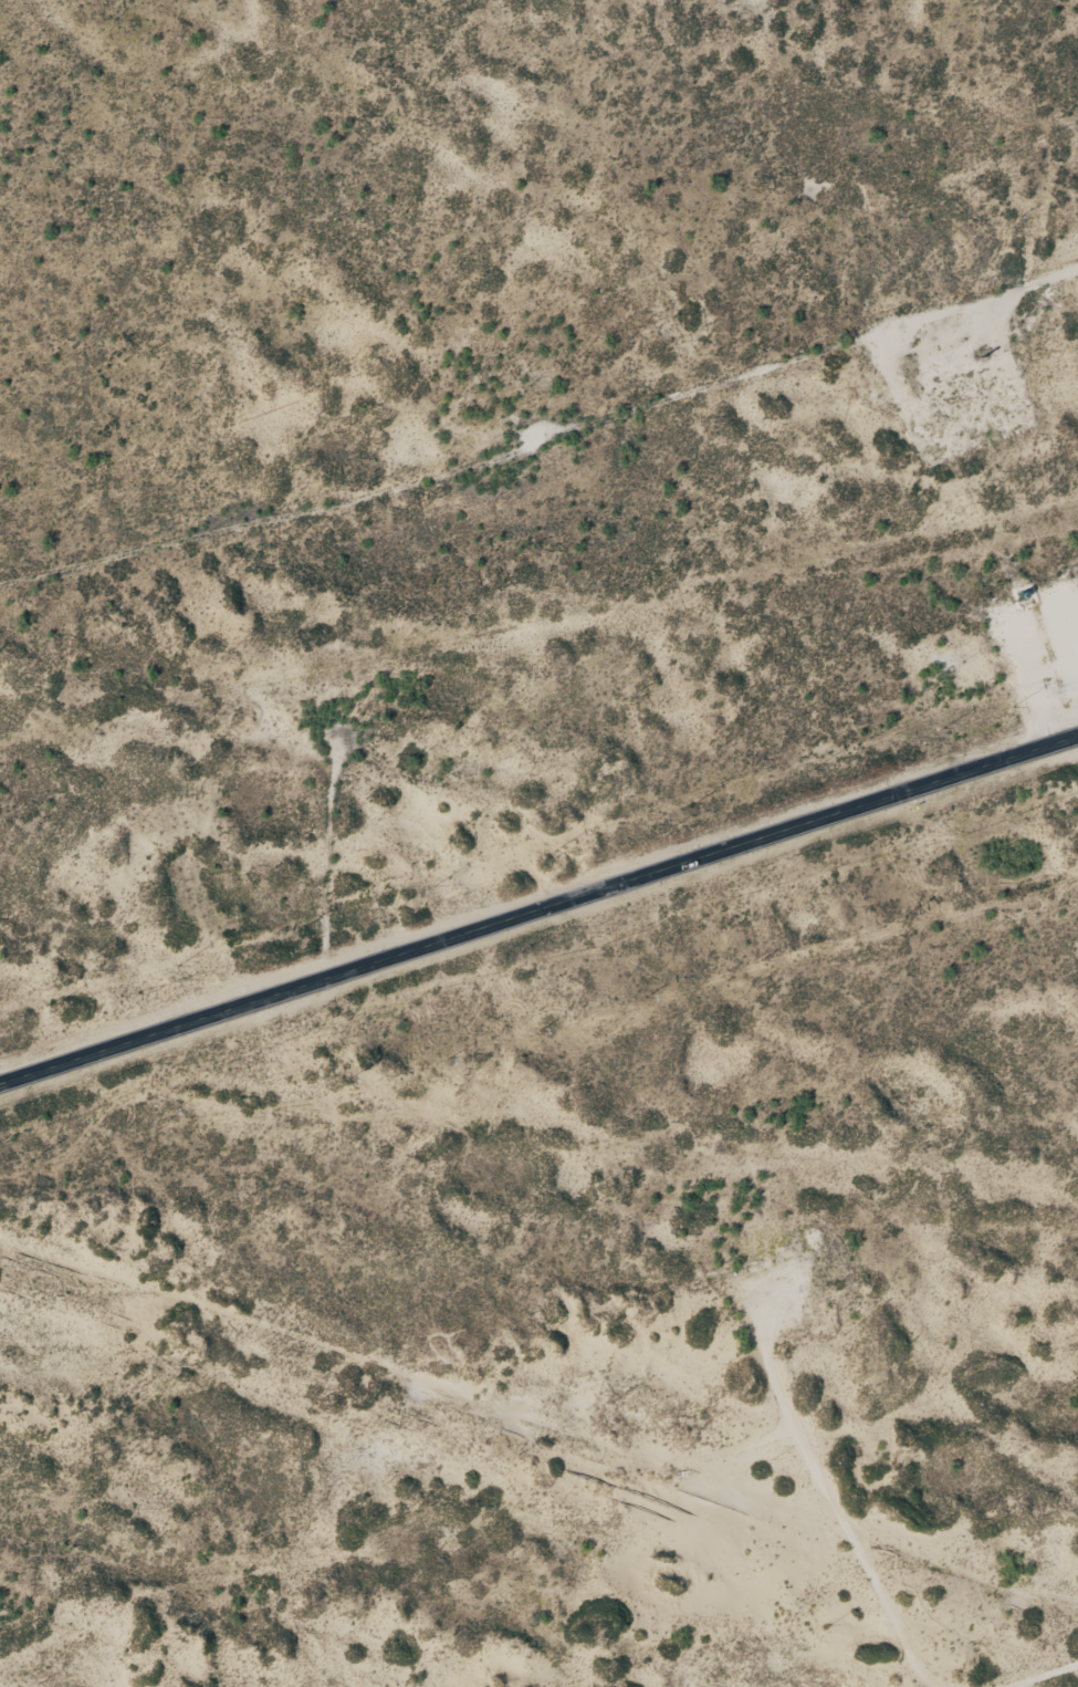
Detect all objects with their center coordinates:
road: (545, 471)
road: (538, 906)
road: (851, 1486)

